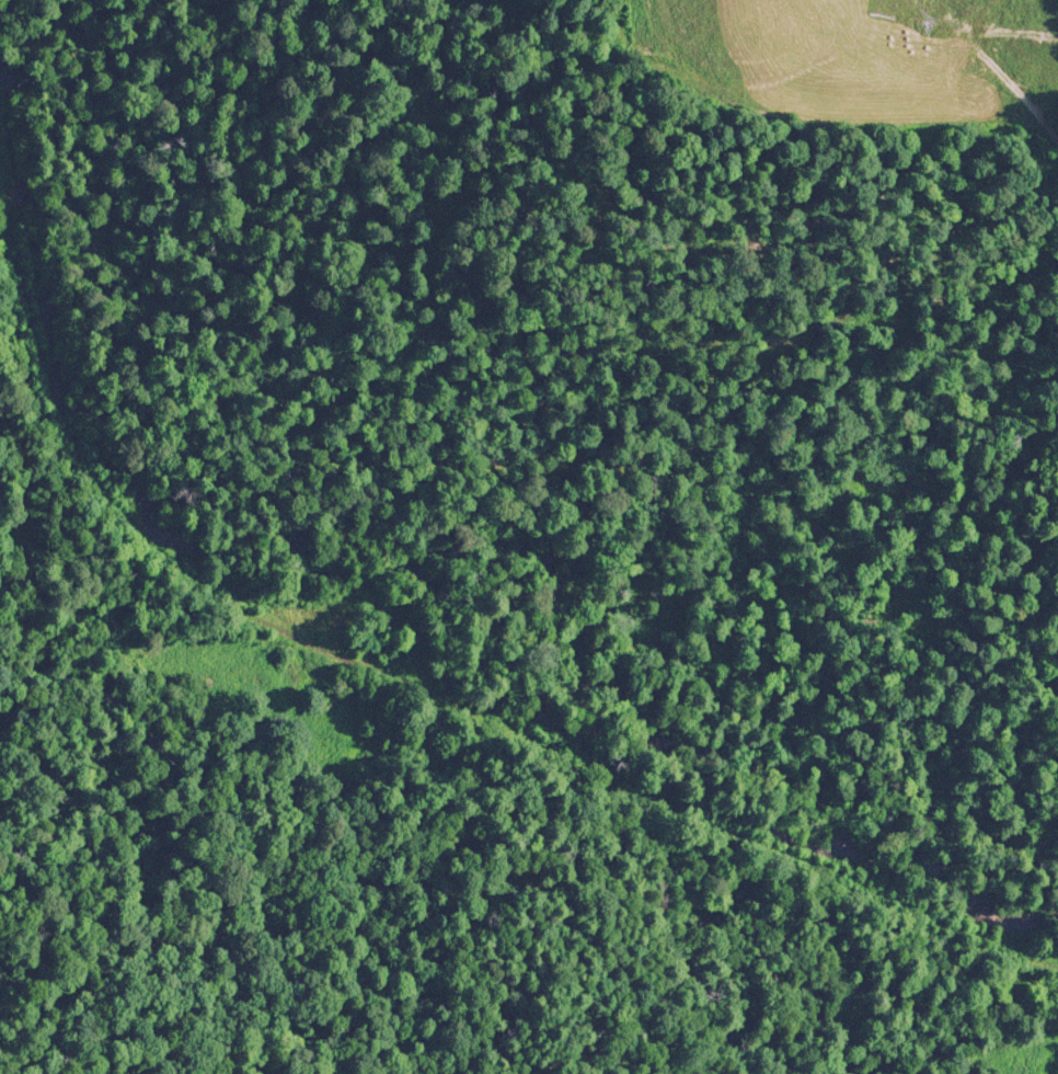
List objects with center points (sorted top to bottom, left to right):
railway: (433, 690)

